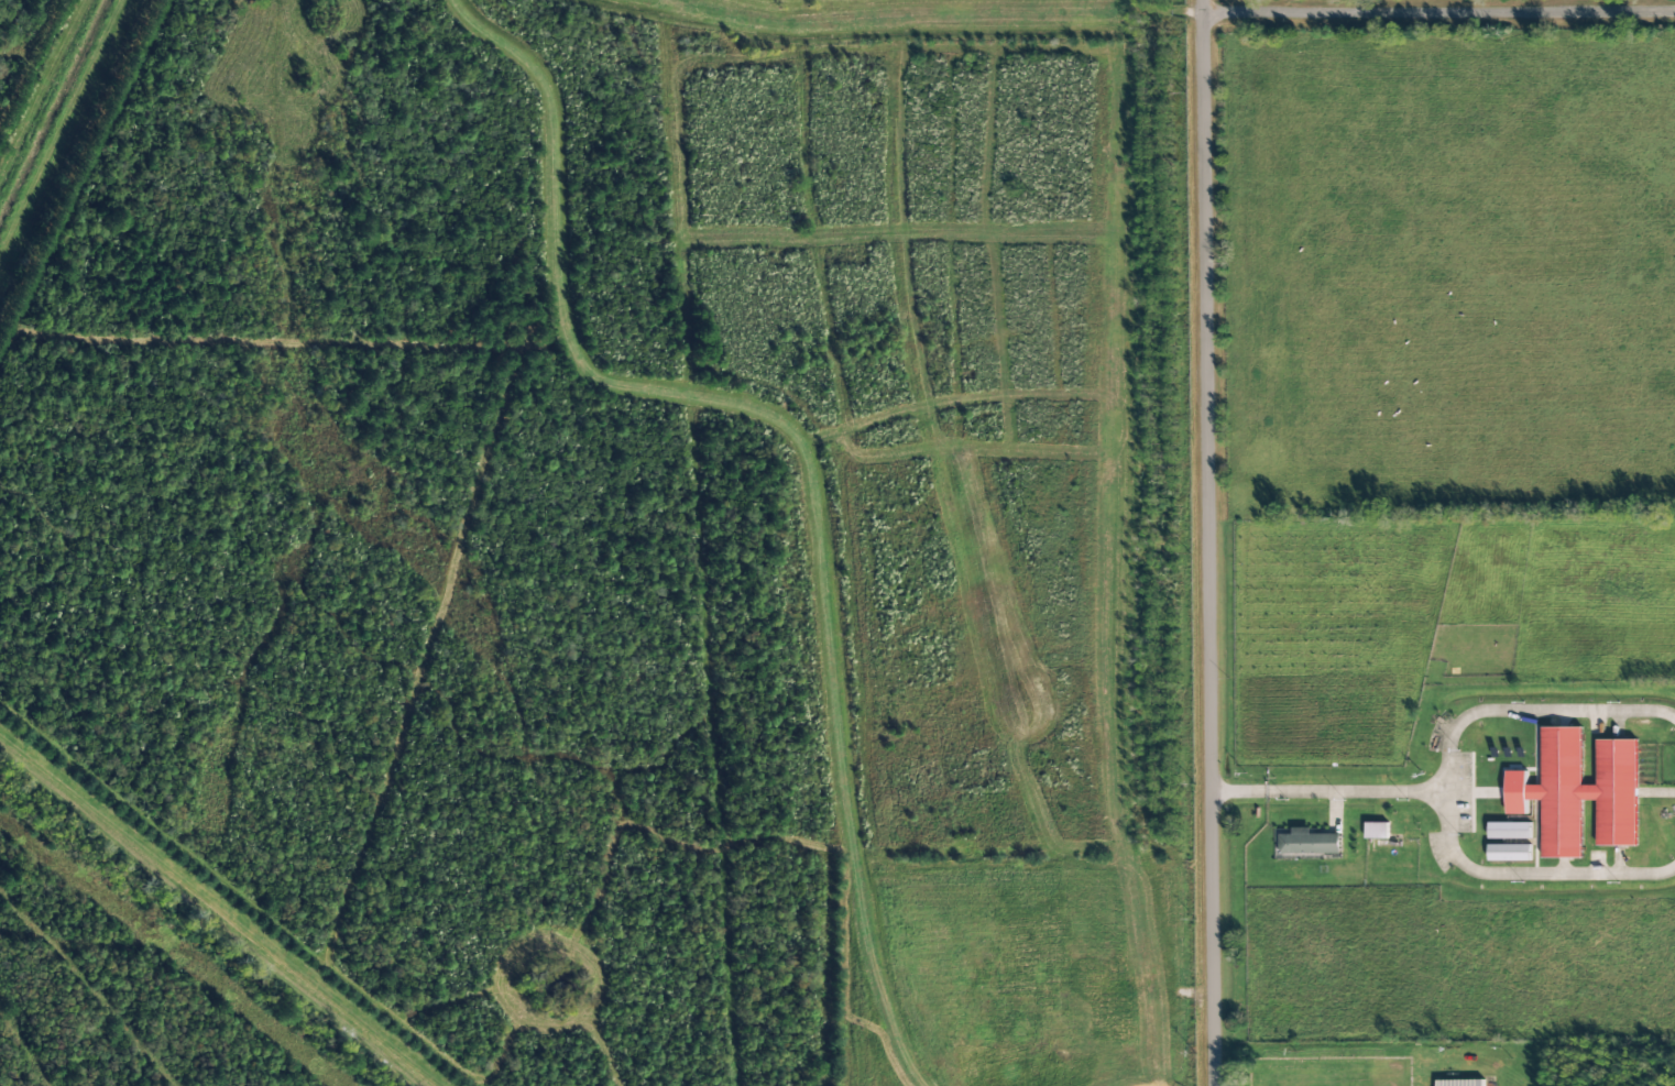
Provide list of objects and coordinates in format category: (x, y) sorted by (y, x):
road: (1438, 10)
road: (1207, 542)
building: (1579, 792)
building: (1377, 831)
building: (1510, 831)
building: (1310, 843)
building: (1509, 853)
building: (1460, 1083)

